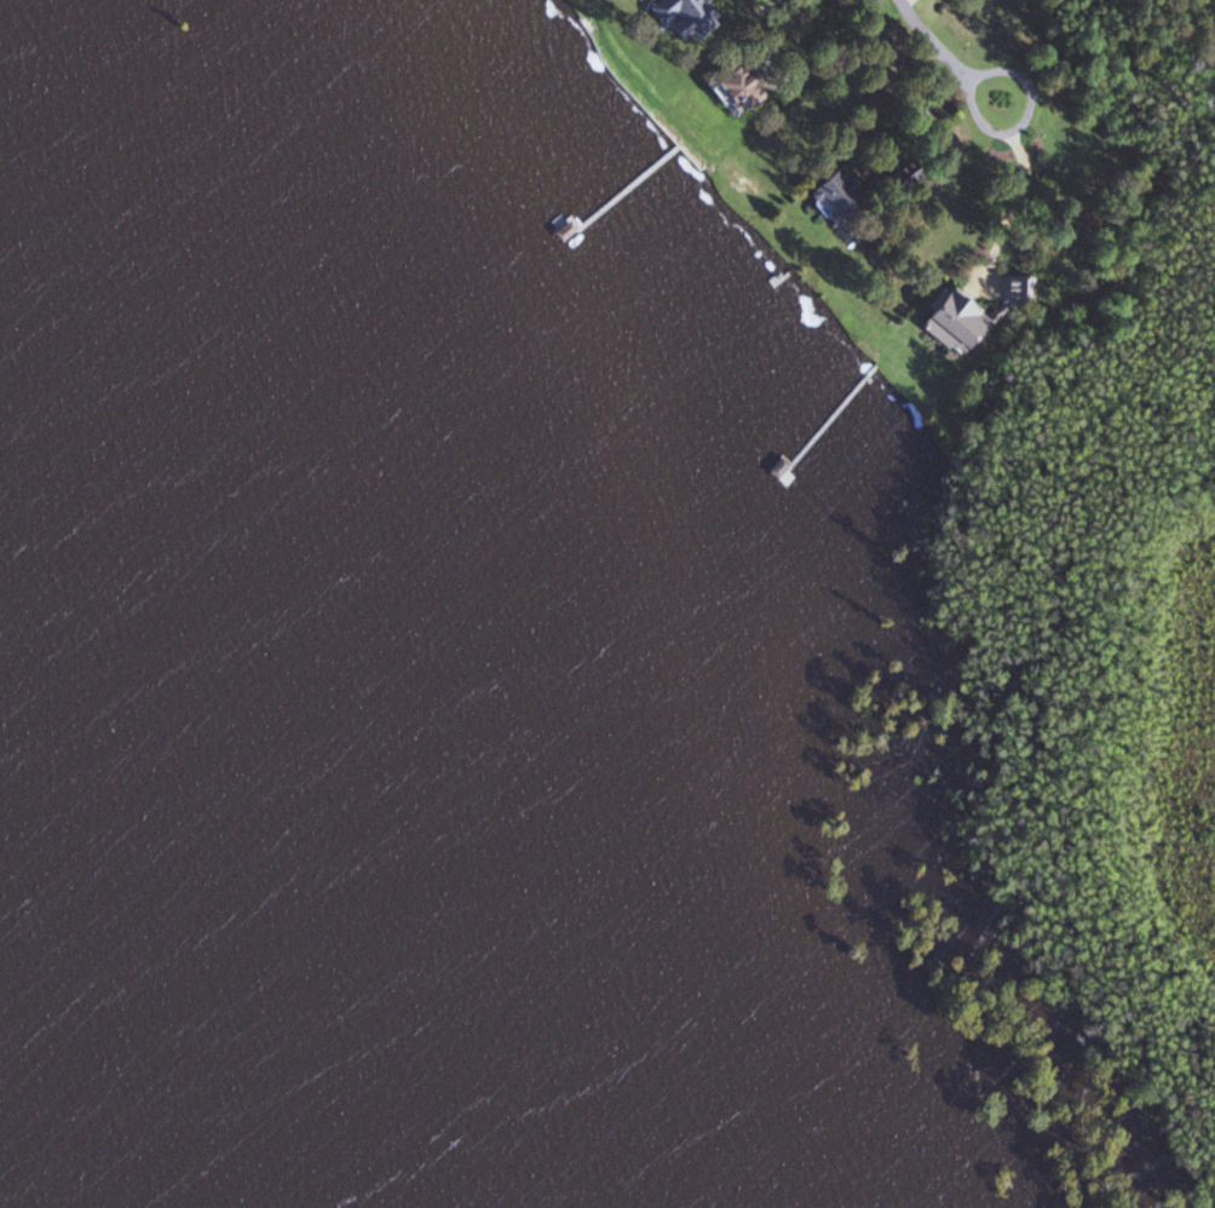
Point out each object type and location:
road: (904, 1)
road: (778, 34)
road: (932, 39)
building: (749, 91)
road: (914, 110)
road: (1024, 121)
building: (910, 173)
building: (843, 205)
road: (1003, 222)
building: (1023, 292)
building: (962, 317)
building: (830, 1030)

